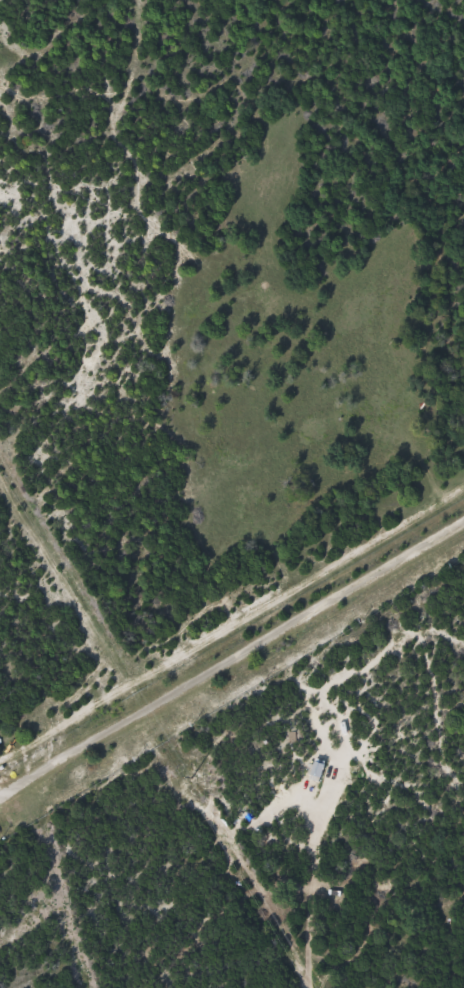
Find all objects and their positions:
road: (233, 656)
power tower: (191, 777)

